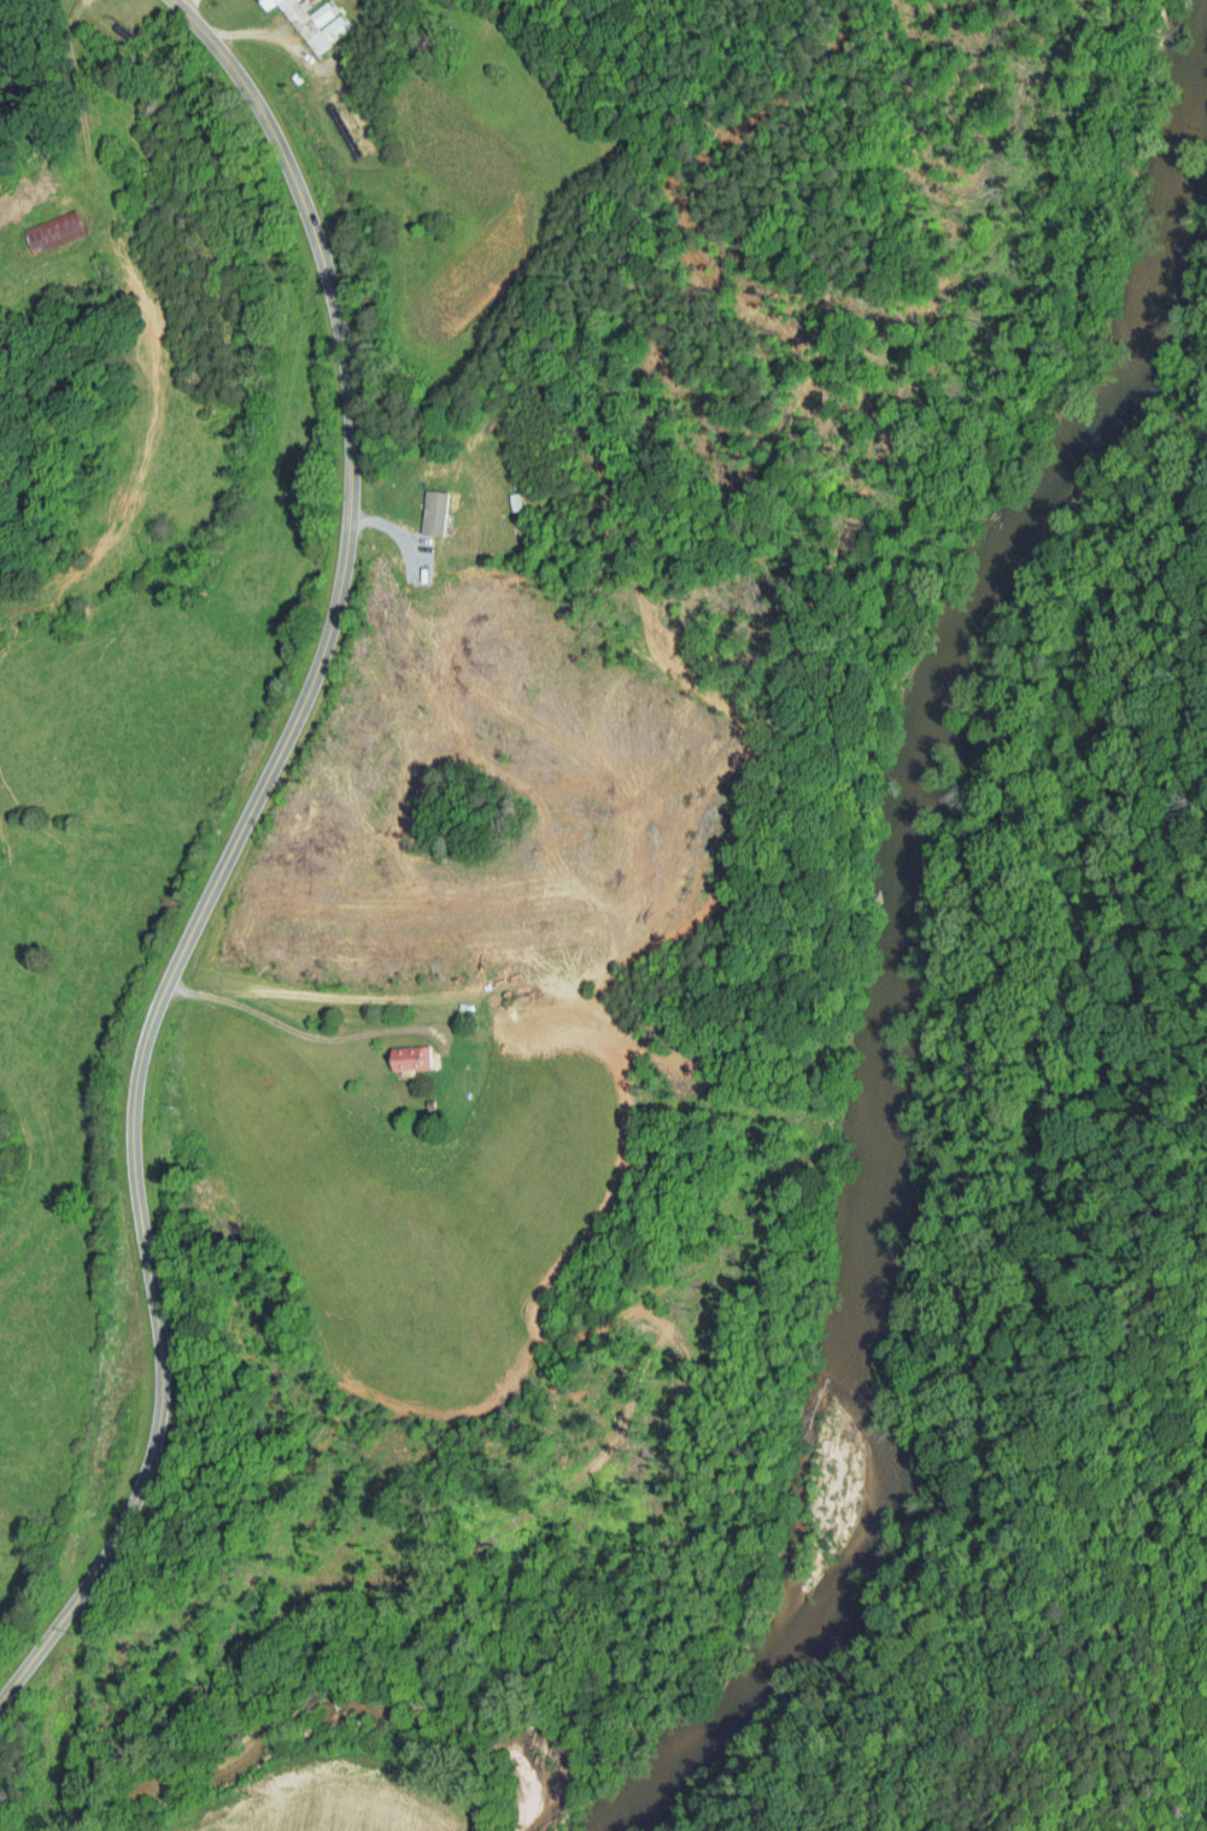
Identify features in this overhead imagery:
building: (256, 0)
road: (176, 1)
building: (305, 17)
building: (43, 222)
building: (421, 505)
road: (228, 848)
river: (900, 960)
road: (287, 1028)
building: (399, 1051)

